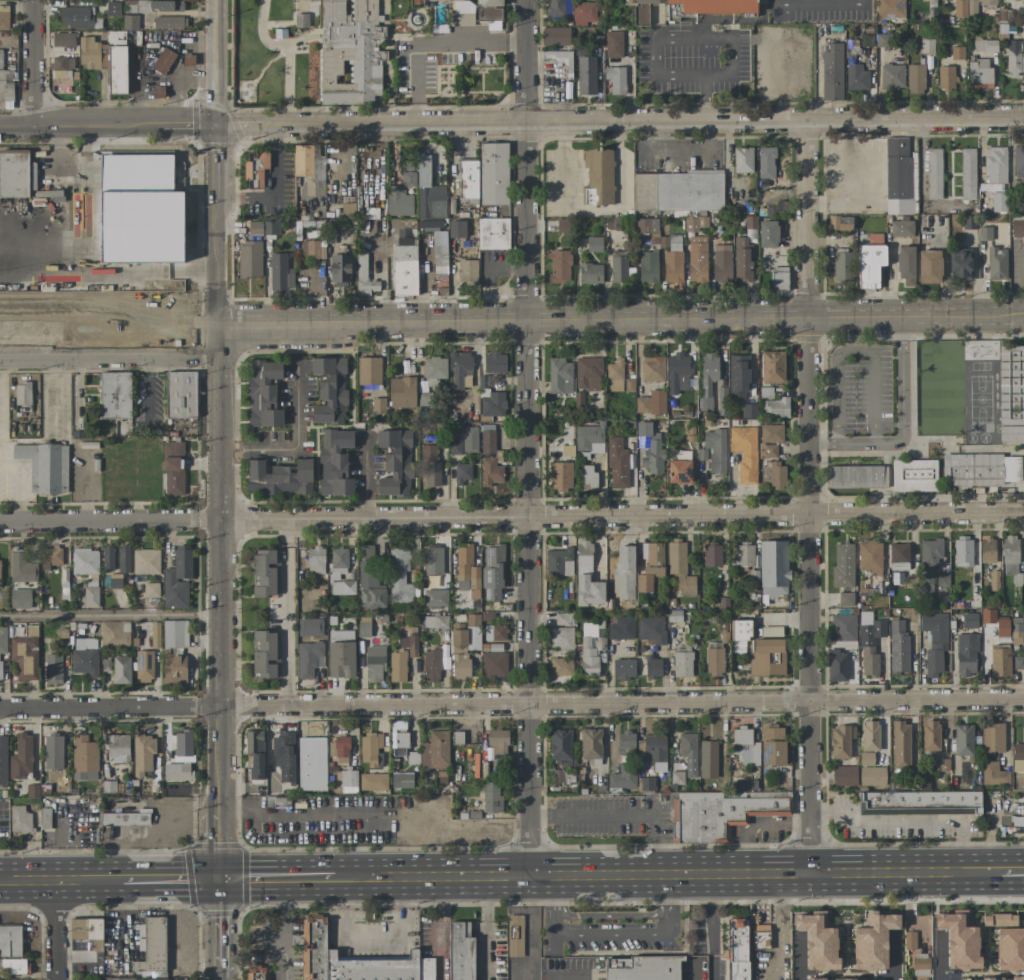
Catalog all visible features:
building: (308, 0)
building: (437, 1)
building: (988, 2)
building: (166, 5)
road: (820, 5)
building: (142, 6)
building: (715, 6)
building: (113, 7)
building: (972, 7)
building: (559, 8)
building: (890, 9)
building: (489, 10)
building: (642, 11)
building: (674, 12)
building: (583, 13)
building: (76, 17)
building: (5, 20)
building: (301, 20)
building: (130, 22)
building: (169, 22)
road: (702, 35)
building: (555, 36)
building: (116, 37)
building: (63, 39)
road: (213, 40)
building: (883, 40)
road: (434, 43)
building: (613, 44)
building: (984, 45)
building: (927, 46)
road: (287, 52)
building: (351, 52)
building: (89, 53)
building: (957, 53)
building: (1015, 58)
building: (559, 60)
building: (163, 61)
road: (35, 62)
building: (60, 67)
building: (117, 70)
building: (832, 73)
building: (979, 74)
building: (586, 75)
building: (892, 76)
building: (856, 77)
building: (946, 78)
building: (615, 79)
building: (915, 79)
building: (8, 84)
road: (212, 102)
road: (511, 119)
building: (160, 153)
road: (526, 155)
road: (213, 157)
building: (742, 160)
building: (1018, 160)
building: (766, 162)
building: (995, 165)
building: (309, 166)
building: (124, 170)
building: (255, 170)
building: (968, 173)
building: (494, 174)
building: (600, 174)
building: (934, 174)
building: (13, 176)
building: (899, 177)
building: (408, 179)
building: (468, 181)
road: (277, 190)
building: (677, 191)
building: (429, 192)
building: (589, 196)
road: (214, 199)
building: (398, 202)
building: (999, 202)
road: (806, 213)
building: (371, 214)
building: (692, 220)
building: (750, 222)
building: (839, 223)
building: (111, 225)
building: (1017, 225)
building: (646, 226)
building: (271, 227)
building: (255, 228)
building: (901, 228)
building: (456, 229)
building: (984, 233)
building: (493, 234)
building: (768, 234)
road: (215, 244)
building: (594, 244)
railway: (85, 257)
railway: (28, 258)
railway: (115, 258)
building: (440, 258)
building: (249, 259)
building: (697, 259)
building: (742, 259)
building: (673, 263)
building: (721, 263)
building: (997, 263)
building: (870, 264)
building: (960, 264)
building: (905, 265)
building: (404, 266)
building: (559, 266)
building: (841, 266)
building: (929, 266)
building: (618, 267)
building: (648, 267)
building: (340, 270)
building: (280, 272)
building: (467, 272)
building: (178, 273)
building: (590, 273)
railway: (43, 278)
building: (364, 278)
building: (779, 279)
railway: (142, 281)
railway: (88, 287)
railway: (55, 299)
road: (216, 302)
railway: (621, 306)
road: (915, 306)
road: (667, 309)
railway: (109, 310)
road: (371, 312)
railway: (619, 315)
railway: (106, 319)
road: (962, 324)
road: (853, 325)
road: (667, 327)
road: (372, 329)
road: (857, 349)
road: (109, 359)
building: (494, 362)
building: (772, 367)
building: (652, 368)
building: (434, 370)
building: (460, 370)
building: (369, 371)
building: (677, 372)
building: (588, 373)
building: (615, 373)
building: (560, 376)
building: (738, 377)
building: (707, 378)
building: (629, 385)
building: (329, 390)
building: (401, 392)
building: (765, 392)
building: (263, 393)
building: (22, 394)
building: (114, 395)
building: (180, 395)
building: (721, 399)
building: (422, 400)
building: (492, 403)
building: (651, 403)
building: (378, 404)
building: (776, 407)
building: (749, 410)
road: (901, 430)
building: (771, 434)
building: (470, 439)
building: (589, 439)
building: (487, 441)
building: (455, 448)
road: (293, 449)
building: (650, 449)
building: (567, 451)
building: (715, 451)
building: (768, 451)
building: (744, 453)
building: (335, 462)
building: (395, 463)
building: (617, 464)
building: (45, 466)
building: (430, 466)
building: (173, 468)
building: (680, 468)
building: (981, 469)
building: (491, 472)
building: (462, 473)
building: (914, 475)
building: (560, 476)
building: (588, 476)
building: (775, 476)
building: (857, 477)
building: (279, 478)
road: (511, 518)
building: (1023, 543)
building: (987, 550)
building: (963, 552)
building: (712, 554)
building: (743, 555)
building: (898, 556)
building: (51, 557)
building: (108, 557)
building: (870, 557)
building: (123, 558)
building: (1011, 559)
building: (315, 560)
building: (433, 560)
building: (84, 561)
building: (145, 562)
building: (559, 562)
building: (929, 562)
building: (338, 563)
building: (650, 565)
building: (843, 565)
building: (679, 567)
building: (22, 568)
road: (219, 568)
building: (773, 570)
building: (466, 571)
building: (0, 572)
building: (493, 572)
building: (624, 572)
building: (265, 573)
building: (586, 577)
building: (177, 579)
building: (399, 579)
building: (369, 580)
building: (942, 580)
building: (994, 580)
building: (115, 581)
building: (342, 588)
building: (151, 590)
building: (91, 597)
building: (435, 598)
building: (20, 599)
building: (845, 599)
road: (807, 600)
road: (529, 602)
road: (290, 613)
road: (109, 615)
building: (674, 616)
building: (563, 619)
building: (472, 620)
building: (963, 620)
building: (435, 621)
building: (310, 627)
building: (621, 628)
building: (843, 628)
building: (651, 629)
building: (363, 630)
building: (740, 630)
building: (771, 631)
building: (1016, 631)
building: (114, 633)
building: (496, 633)
building: (175, 634)
building: (155, 635)
building: (561, 638)
building: (934, 641)
building: (411, 645)
building: (590, 647)
building: (870, 647)
building: (898, 647)
building: (628, 652)
building: (3, 654)
building: (341, 654)
building: (459, 654)
building: (966, 654)
building: (25, 655)
building: (266, 655)
building: (766, 657)
building: (308, 658)
building: (714, 660)
building: (1000, 660)
building: (85, 662)
building: (682, 662)
building: (445, 663)
building: (494, 663)
building: (1018, 663)
building: (374, 664)
building: (431, 665)
building: (144, 666)
building: (397, 666)
building: (836, 666)
building: (561, 667)
building: (653, 667)
building: (53, 669)
building: (174, 669)
building: (623, 669)
building: (121, 670)
road: (511, 703)
building: (930, 735)
building: (870, 736)
building: (458, 738)
building: (992, 738)
building: (963, 740)
building: (498, 741)
building: (841, 741)
building: (626, 743)
building: (400, 744)
building: (590, 744)
building: (772, 745)
building: (901, 745)
building: (745, 746)
building: (560, 747)
building: (117, 748)
building: (655, 748)
building: (371, 749)
building: (341, 750)
building: (435, 751)
building: (1019, 751)
building: (53, 753)
building: (255, 753)
building: (688, 753)
building: (142, 755)
building: (284, 756)
building: (21, 757)
building: (180, 758)
building: (84, 759)
building: (708, 759)
building: (866, 759)
building: (4, 761)
building: (312, 764)
building: (993, 774)
building: (844, 776)
building: (872, 776)
building: (622, 777)
building: (676, 777)
building: (404, 780)
building: (348, 781)
building: (373, 782)
building: (109, 786)
building: (491, 797)
building: (920, 802)
building: (1023, 810)
building: (721, 813)
road: (304, 817)
road: (619, 817)
road: (912, 817)
building: (3, 818)
building: (45, 818)
building: (126, 818)
building: (20, 819)
road: (754, 824)
road: (988, 843)
road: (219, 846)
road: (1014, 873)
road: (672, 875)
road: (279, 878)
road: (61, 879)
road: (171, 879)
traffic signals: (219, 879)
building: (999, 919)
road: (218, 922)
building: (1023, 923)
road: (529, 925)
road: (483, 927)
road: (711, 927)
road: (776, 927)
road: (56, 929)
road: (286, 929)
road: (369, 930)
building: (87, 931)
road: (609, 934)
building: (514, 936)
building: (759, 936)
building: (818, 939)
building: (875, 939)
building: (959, 939)
building: (12, 941)
building: (909, 941)
building: (153, 946)
building: (1010, 948)
building: (737, 949)
building: (460, 952)
road: (553, 958)
road: (937, 959)
building: (354, 960)
building: (920, 962)
building: (14, 966)
building: (641, 968)
road: (217, 971)
road: (697, 971)
building: (257, 973)
road: (570, 975)
road: (217, 978)
building: (987, 978)
building: (1017, 978)
building: (118, 979)
building: (165, 979)
building: (815, 979)
building: (848, 979)
building: (855, 979)

